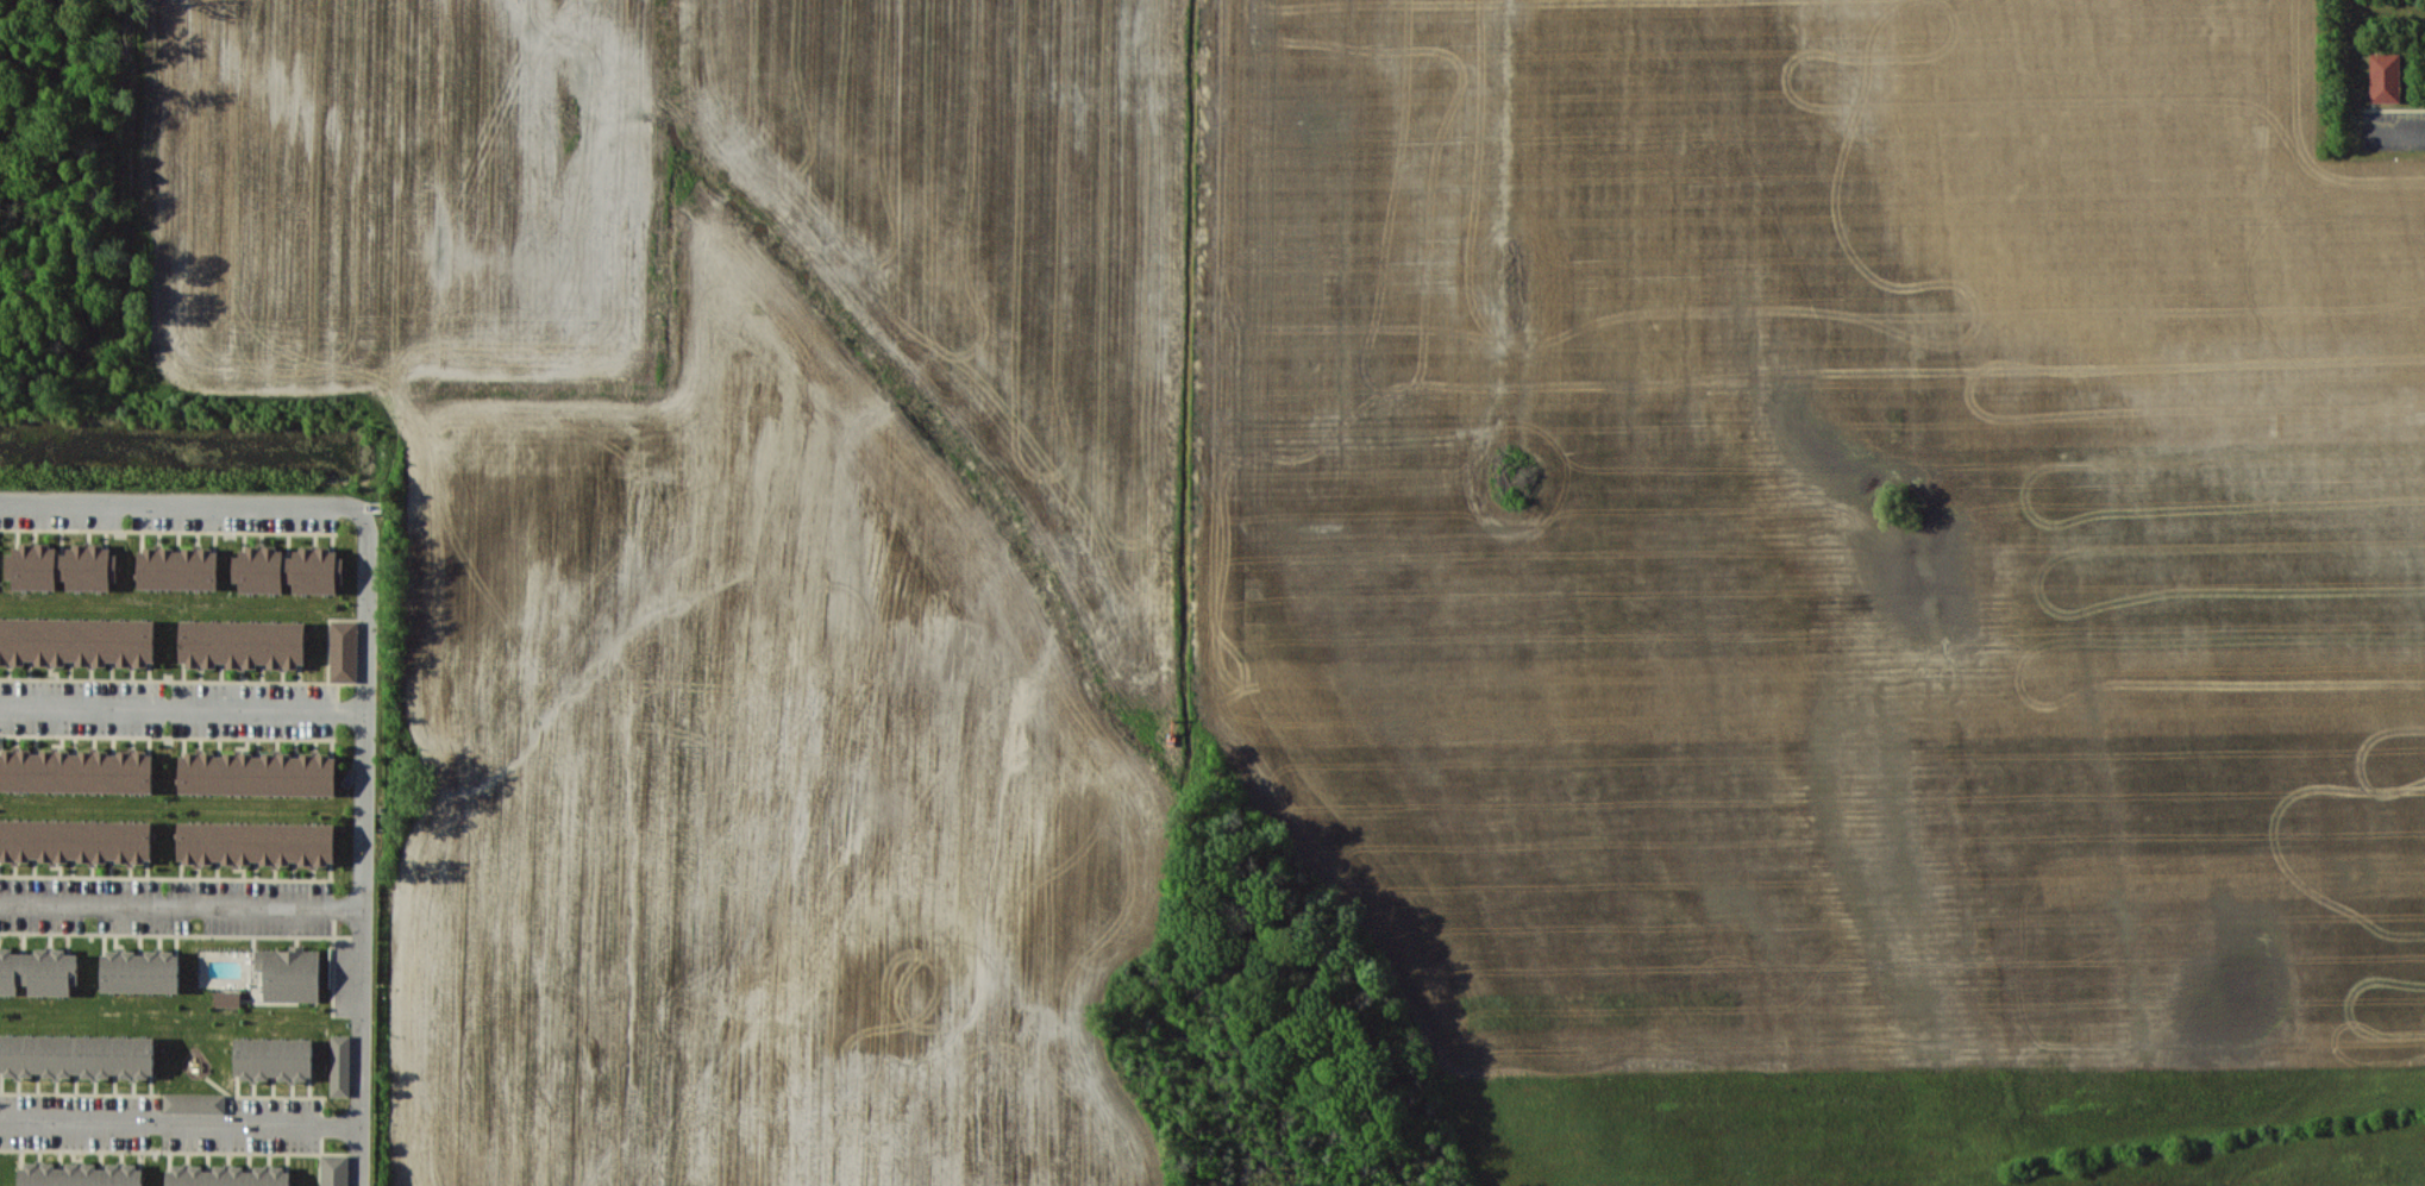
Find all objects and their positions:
building: (2385, 77)
road: (2402, 139)
building: (62, 566)
building: (178, 569)
building: (288, 570)
building: (77, 641)
building: (242, 644)
building: (344, 651)
road: (365, 666)
road: (182, 707)
building: (76, 771)
building: (257, 773)
building: (76, 840)
building: (257, 842)
road: (181, 904)
building: (38, 971)
building: (140, 971)
building: (290, 973)
building: (228, 998)
building: (77, 1055)
building: (275, 1059)
building: (340, 1065)
building: (194, 1103)
road: (180, 1123)
building: (334, 1169)
building: (80, 1174)
building: (227, 1175)

